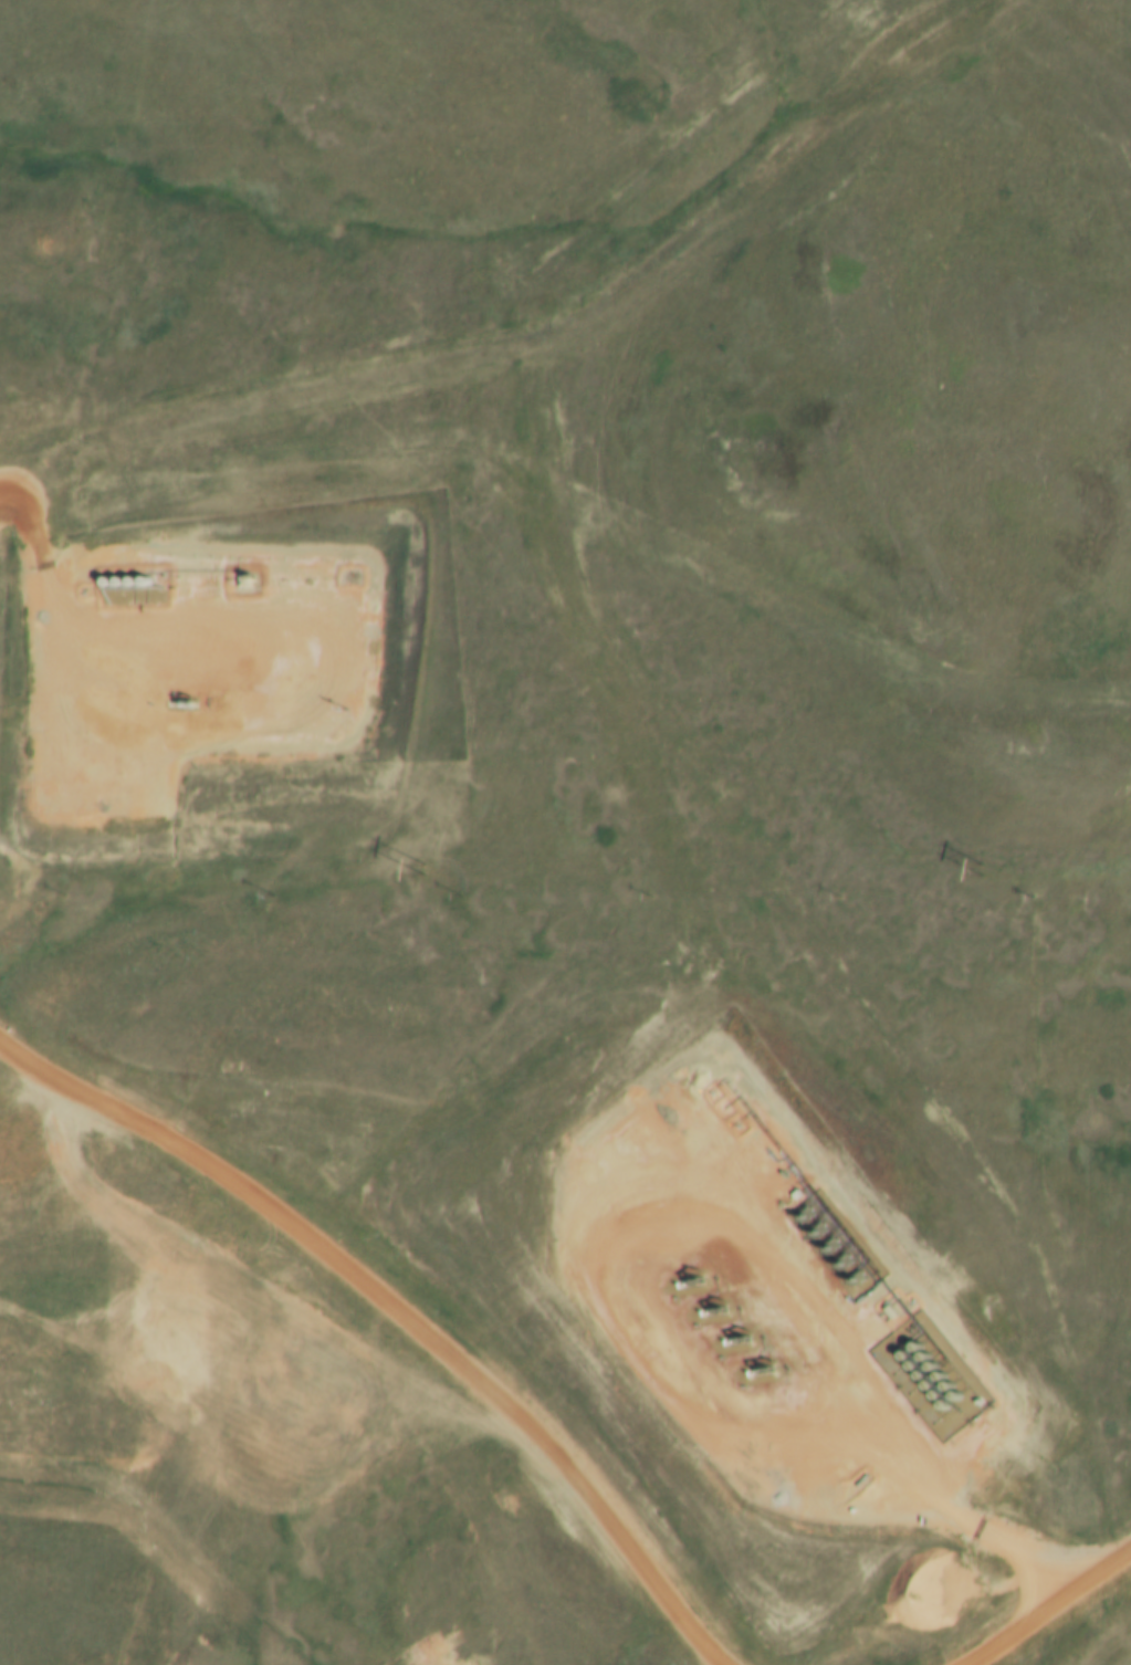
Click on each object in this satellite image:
road: (547, 337)
quarry: (0, 794)
quarry: (831, 1603)

